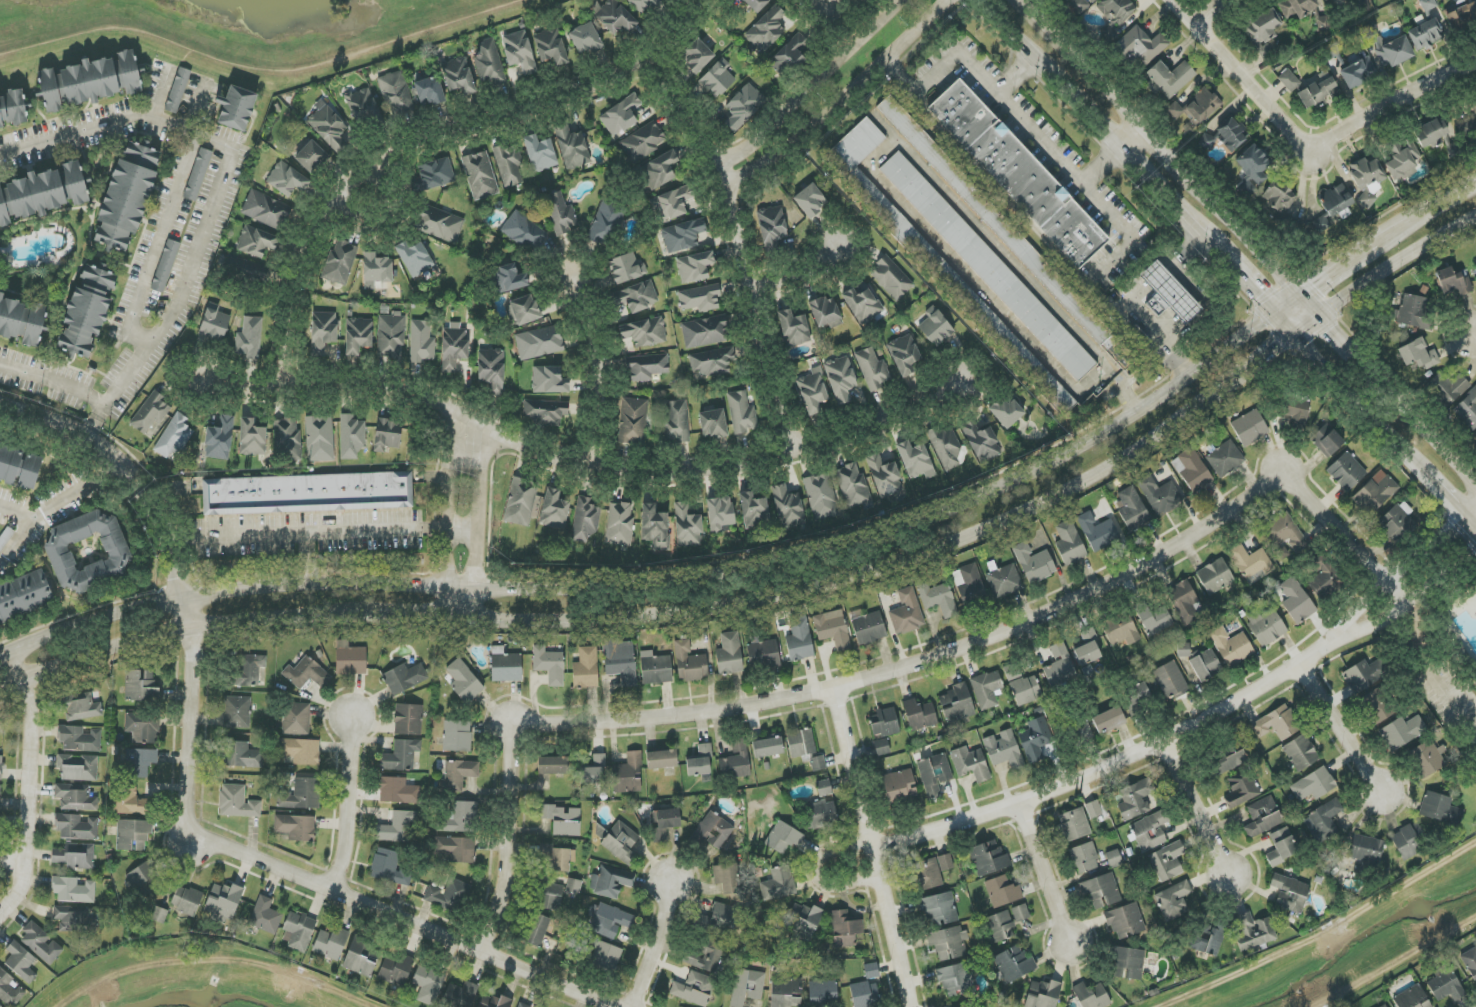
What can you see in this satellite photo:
road: (833, 0)
building: (1326, 1)
building: (757, 4)
building: (643, 5)
building: (1082, 5)
building: (1297, 7)
road: (1207, 9)
building: (1115, 11)
building: (615, 17)
building: (1463, 17)
building: (1321, 22)
building: (1262, 26)
building: (767, 29)
road: (1000, 30)
building: (1426, 35)
building: (586, 38)
building: (1141, 46)
building: (551, 47)
building: (1388, 47)
building: (1267, 50)
building: (519, 52)
building: (790, 55)
building: (697, 56)
building: (489, 64)
building: (1358, 72)
building: (459, 76)
road: (1014, 76)
building: (1170, 78)
building: (718, 79)
building: (1289, 80)
building: (89, 82)
road: (809, 89)
building: (178, 90)
building: (430, 91)
road: (162, 92)
building: (396, 93)
road: (528, 101)
road: (841, 103)
building: (1473, 104)
road: (847, 105)
road: (196, 106)
building: (363, 107)
building: (743, 107)
building: (237, 108)
building: (1195, 108)
building: (620, 116)
building: (1467, 125)
road: (1030, 126)
building: (328, 127)
parking lot: (1044, 130)
building: (1431, 132)
building: (1232, 134)
road: (1133, 141)
building: (1207, 141)
building: (643, 142)
road: (890, 144)
road: (1162, 144)
road: (1306, 144)
building: (572, 147)
road: (1116, 151)
building: (540, 153)
building: (142, 155)
building: (311, 157)
building: (1402, 159)
building: (509, 164)
road: (1101, 168)
building: (1252, 168)
building: (659, 170)
parking lot: (1024, 171)
building: (436, 173)
building: (1018, 173)
building: (198, 174)
building: (480, 175)
building: (287, 180)
building: (1367, 180)
building: (41, 193)
building: (1278, 197)
road: (1450, 200)
road: (367, 201)
building: (810, 201)
building: (1337, 201)
building: (124, 204)
building: (671, 204)
building: (266, 210)
parking lot: (1118, 210)
building: (560, 216)
road: (206, 223)
building: (439, 224)
building: (605, 224)
building: (1320, 224)
building: (772, 226)
road: (990, 227)
building: (524, 231)
building: (683, 235)
building: (1009, 236)
road: (159, 242)
building: (256, 242)
road: (737, 244)
building: (924, 244)
road: (1182, 250)
road: (1363, 254)
building: (414, 258)
building: (340, 262)
building: (165, 266)
building: (988, 266)
road: (1398, 266)
building: (695, 267)
building: (626, 269)
building: (245, 270)
building: (376, 270)
road: (797, 272)
road: (1237, 275)
road: (290, 277)
building: (891, 278)
road: (968, 278)
building: (508, 279)
road: (1181, 282)
building: (1452, 283)
traffic signals: (1314, 284)
road: (821, 292)
building: (1168, 294)
building: (635, 297)
traffic signals: (1258, 297)
building: (701, 298)
road: (1285, 301)
building: (863, 305)
road: (1311, 306)
road: (916, 307)
building: (523, 310)
building: (87, 311)
building: (1413, 311)
building: (824, 312)
road: (852, 312)
building: (22, 321)
building: (215, 323)
road: (1284, 324)
road: (816, 326)
building: (793, 329)
building: (936, 329)
road: (1310, 329)
building: (323, 331)
traffic signals: (1332, 331)
building: (644, 332)
building: (705, 332)
building: (358, 335)
building: (391, 335)
road: (1159, 336)
building: (250, 338)
building: (422, 342)
building: (539, 342)
building: (453, 347)
road: (850, 349)
road: (1348, 350)
traffic signals: (1280, 351)
building: (1418, 354)
building: (904, 355)
building: (711, 361)
building: (646, 367)
building: (492, 369)
road: (595, 369)
building: (873, 369)
road: (1252, 370)
road: (225, 374)
building: (841, 379)
building: (549, 380)
building: (1449, 386)
building: (812, 392)
road: (1350, 394)
road: (187, 395)
road: (336, 395)
building: (1467, 410)
building: (1297, 411)
building: (544, 412)
building: (1006, 412)
building: (150, 413)
building: (742, 413)
building: (677, 421)
building: (633, 422)
building: (713, 424)
building: (1250, 428)
road: (1427, 431)
road: (819, 433)
building: (387, 434)
road: (518, 434)
building: (174, 436)
building: (351, 436)
building: (252, 438)
building: (319, 438)
building: (220, 439)
building: (286, 439)
road: (785, 439)
road: (465, 440)
building: (1327, 440)
building: (982, 443)
building: (946, 448)
building: (1225, 459)
building: (916, 460)
road: (579, 463)
building: (9, 464)
building: (1192, 470)
building: (1346, 471)
building: (30, 472)
road: (721, 476)
building: (885, 477)
building: (854, 487)
road: (1439, 490)
building: (308, 493)
building: (1375, 493)
building: (1159, 495)
building: (821, 497)
building: (522, 501)
road: (52, 507)
building: (788, 508)
building: (554, 509)
building: (1132, 509)
building: (754, 511)
road: (19, 512)
building: (720, 513)
building: (585, 520)
building: (1397, 521)
road: (447, 522)
road: (476, 523)
building: (619, 524)
building: (655, 527)
building: (688, 527)
road: (461, 530)
building: (1098, 532)
building: (1284, 533)
road: (322, 534)
building: (1069, 544)
building: (89, 552)
road: (769, 554)
building: (1034, 563)
building: (1253, 565)
road: (1397, 574)
building: (1215, 576)
building: (1324, 578)
building: (1003, 580)
road: (665, 582)
building: (970, 585)
building: (24, 596)
building: (938, 599)
building: (1296, 601)
road: (1406, 601)
building: (1185, 602)
road: (459, 604)
building: (907, 613)
building: (1154, 618)
road: (622, 621)
building: (1266, 625)
building: (869, 628)
building: (833, 629)
building: (1121, 631)
building: (799, 639)
building: (1232, 646)
building: (1184, 650)
building: (1087, 653)
building: (729, 654)
building: (763, 654)
road: (1423, 655)
building: (350, 659)
building: (620, 660)
building: (690, 663)
park: (1444, 663)
building: (549, 664)
building: (1206, 665)
building: (505, 666)
building: (1060, 666)
road: (898, 667)
building: (586, 668)
building: (656, 670)
building: (249, 671)
building: (306, 674)
building: (1365, 675)
building: (1473, 676)
building: (404, 678)
building: (464, 681)
building: (1171, 681)
building: (141, 685)
building: (1022, 686)
building: (987, 689)
building: (1137, 698)
building: (956, 704)
building: (79, 706)
building: (1377, 706)
building: (237, 712)
building: (920, 715)
building: (296, 719)
building: (408, 719)
building: (1109, 720)
building: (884, 723)
building: (1277, 723)
building: (142, 727)
road: (1345, 728)
building: (1083, 731)
building: (1402, 732)
building: (457, 736)
building: (79, 739)
building: (801, 743)
building: (882, 747)
building: (768, 748)
building: (1004, 749)
building: (301, 751)
building: (1301, 753)
building: (242, 755)
building: (1231, 755)
building: (401, 756)
building: (1427, 758)
building: (662, 759)
building: (699, 760)
building: (736, 761)
building: (139, 763)
building: (818, 763)
building: (971, 763)
building: (553, 766)
building: (1, 767)
building: (78, 767)
building: (593, 770)
building: (458, 774)
building: (628, 774)
building: (934, 774)
building: (1314, 784)
road: (27, 785)
building: (899, 785)
building: (824, 788)
road: (1040, 790)
building: (1241, 790)
building: (396, 791)
building: (300, 794)
building: (0, 795)
building: (76, 798)
building: (1135, 799)
building: (130, 802)
road: (195, 802)
building: (237, 802)
road: (350, 805)
building: (1093, 809)
road: (1199, 809)
building: (1440, 809)
building: (820, 811)
building: (1263, 817)
building: (460, 819)
building: (563, 820)
building: (1322, 821)
building: (663, 823)
building: (1074, 825)
building: (76, 827)
building: (296, 827)
building: (398, 827)
building: (1150, 830)
building: (712, 831)
building: (133, 834)
building: (783, 838)
building: (621, 841)
road: (877, 844)
building: (1281, 847)
building: (455, 849)
building: (1366, 849)
building: (545, 850)
building: (75, 856)
building: (1085, 858)
building: (562, 859)
building: (987, 859)
building: (1114, 859)
road: (12, 861)
building: (1167, 861)
building: (945, 862)
building: (389, 867)
road: (1044, 870)
building: (928, 874)
building: (726, 878)
building: (143, 880)
building: (611, 881)
building: (778, 884)
building: (574, 886)
building: (73, 890)
building: (1102, 891)
building: (1001, 892)
building: (1290, 893)
building: (449, 895)
building: (549, 896)
building: (186, 900)
building: (223, 901)
building: (1173, 901)
building: (938, 908)
building: (1021, 913)
building: (265, 916)
building: (74, 919)
building: (609, 920)
building: (719, 920)
building: (801, 921)
building: (1125, 921)
building: (999, 927)
building: (845, 929)
building: (537, 930)
building: (298, 931)
building: (1253, 931)
building: (1209, 937)
building: (331, 943)
road: (655, 943)
building: (946, 943)
building: (41, 944)
building: (606, 956)
building: (706, 956)
building: (362, 957)
building: (21, 962)
building: (1470, 962)
building: (1128, 963)
building: (1014, 964)
building: (396, 969)
road: (1073, 969)
building: (871, 971)
building: (955, 980)
building: (1445, 984)
building: (428, 985)
building: (747, 987)
building: (694, 989)
building: (10, 990)
building: (786, 992)
building: (823, 993)
building: (865, 994)
building: (1043, 994)
building: (460, 995)
building: (1091, 996)
building: (1412, 998)
building: (493, 1001)
building: (522, 1005)
building: (0, 1006)
building: (1384, 1006)

